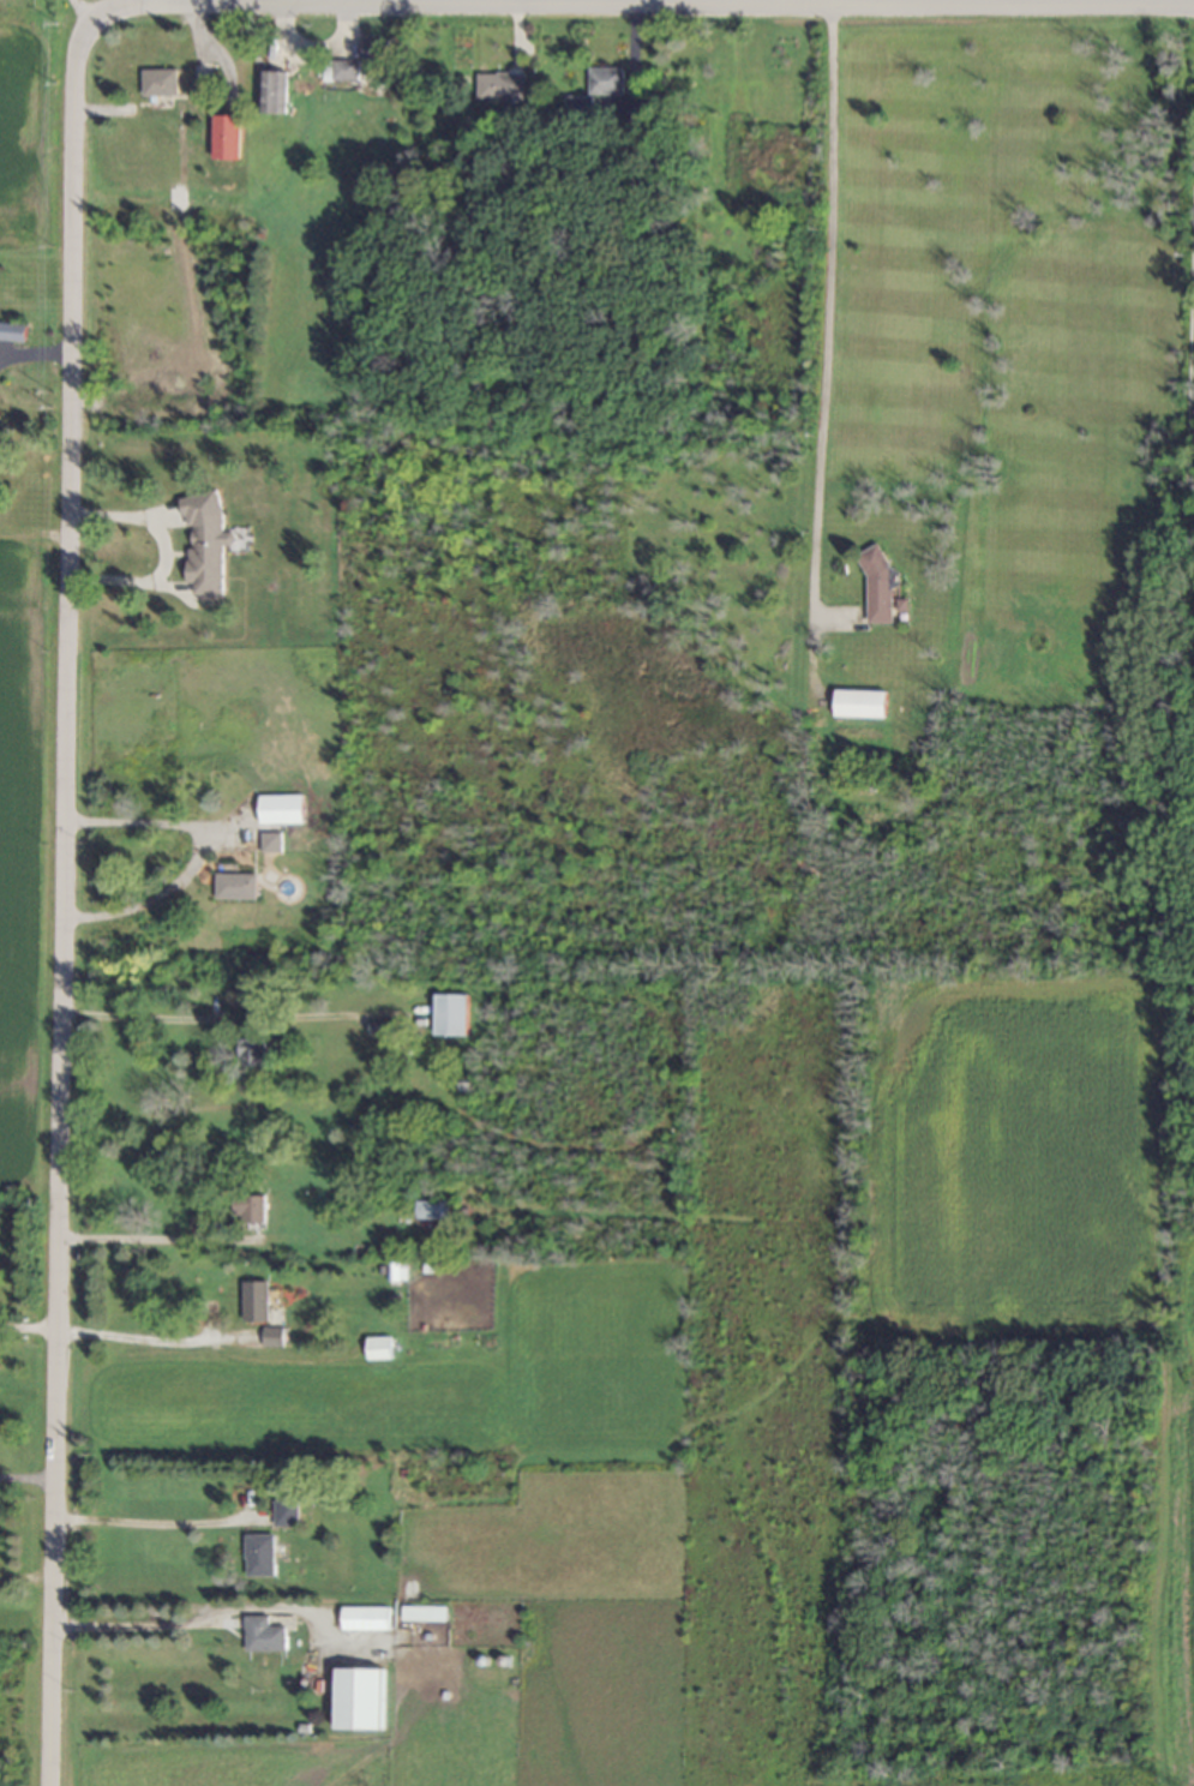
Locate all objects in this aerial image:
road: (232, 5)
road: (634, 10)
building: (374, 56)
building: (341, 71)
building: (606, 80)
building: (160, 82)
building: (271, 88)
building: (500, 88)
building: (200, 89)
building: (577, 101)
building: (224, 138)
road: (826, 317)
building: (12, 332)
road: (1189, 388)
building: (204, 543)
road: (163, 557)
building: (877, 585)
building: (858, 705)
building: (280, 810)
building: (269, 843)
road: (192, 853)
building: (234, 887)
road: (61, 898)
building: (449, 1015)
road: (215, 1023)
building: (251, 1053)
building: (250, 1210)
building: (433, 1210)
crop: (1034, 1216)
road: (148, 1245)
building: (396, 1272)
building: (254, 1302)
road: (28, 1335)
building: (272, 1337)
road: (149, 1343)
building: (378, 1348)
road: (26, 1482)
building: (284, 1514)
road: (144, 1527)
building: (258, 1556)
building: (422, 1614)
building: (364, 1619)
road: (134, 1629)
building: (262, 1636)
building: (358, 1700)

